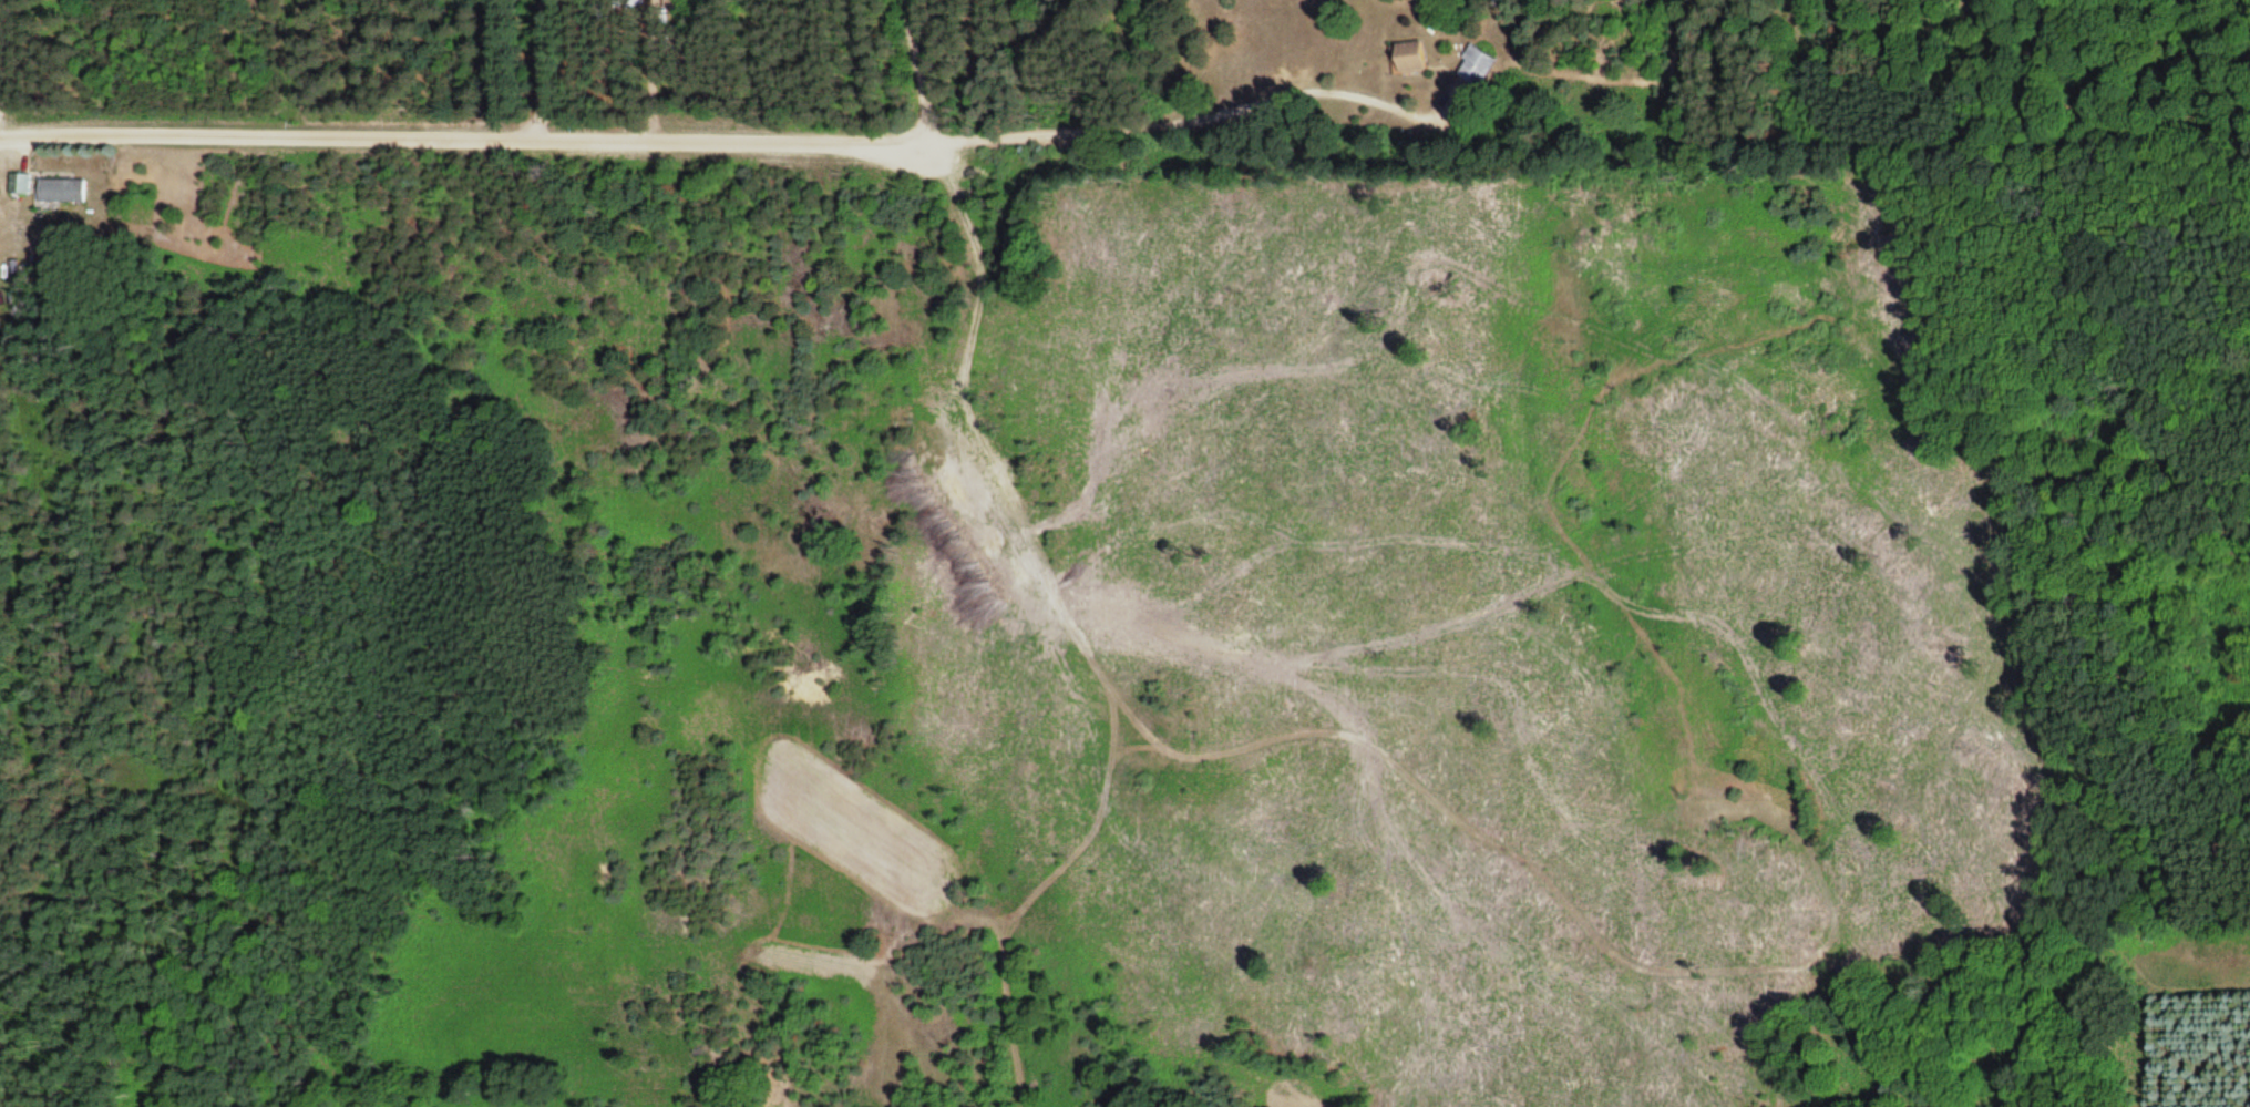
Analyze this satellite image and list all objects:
building: (675, 2)
road: (2, 43)
building: (1473, 65)
road: (540, 68)
road: (1202, 117)
road: (462, 136)
building: (19, 184)
building: (61, 191)

